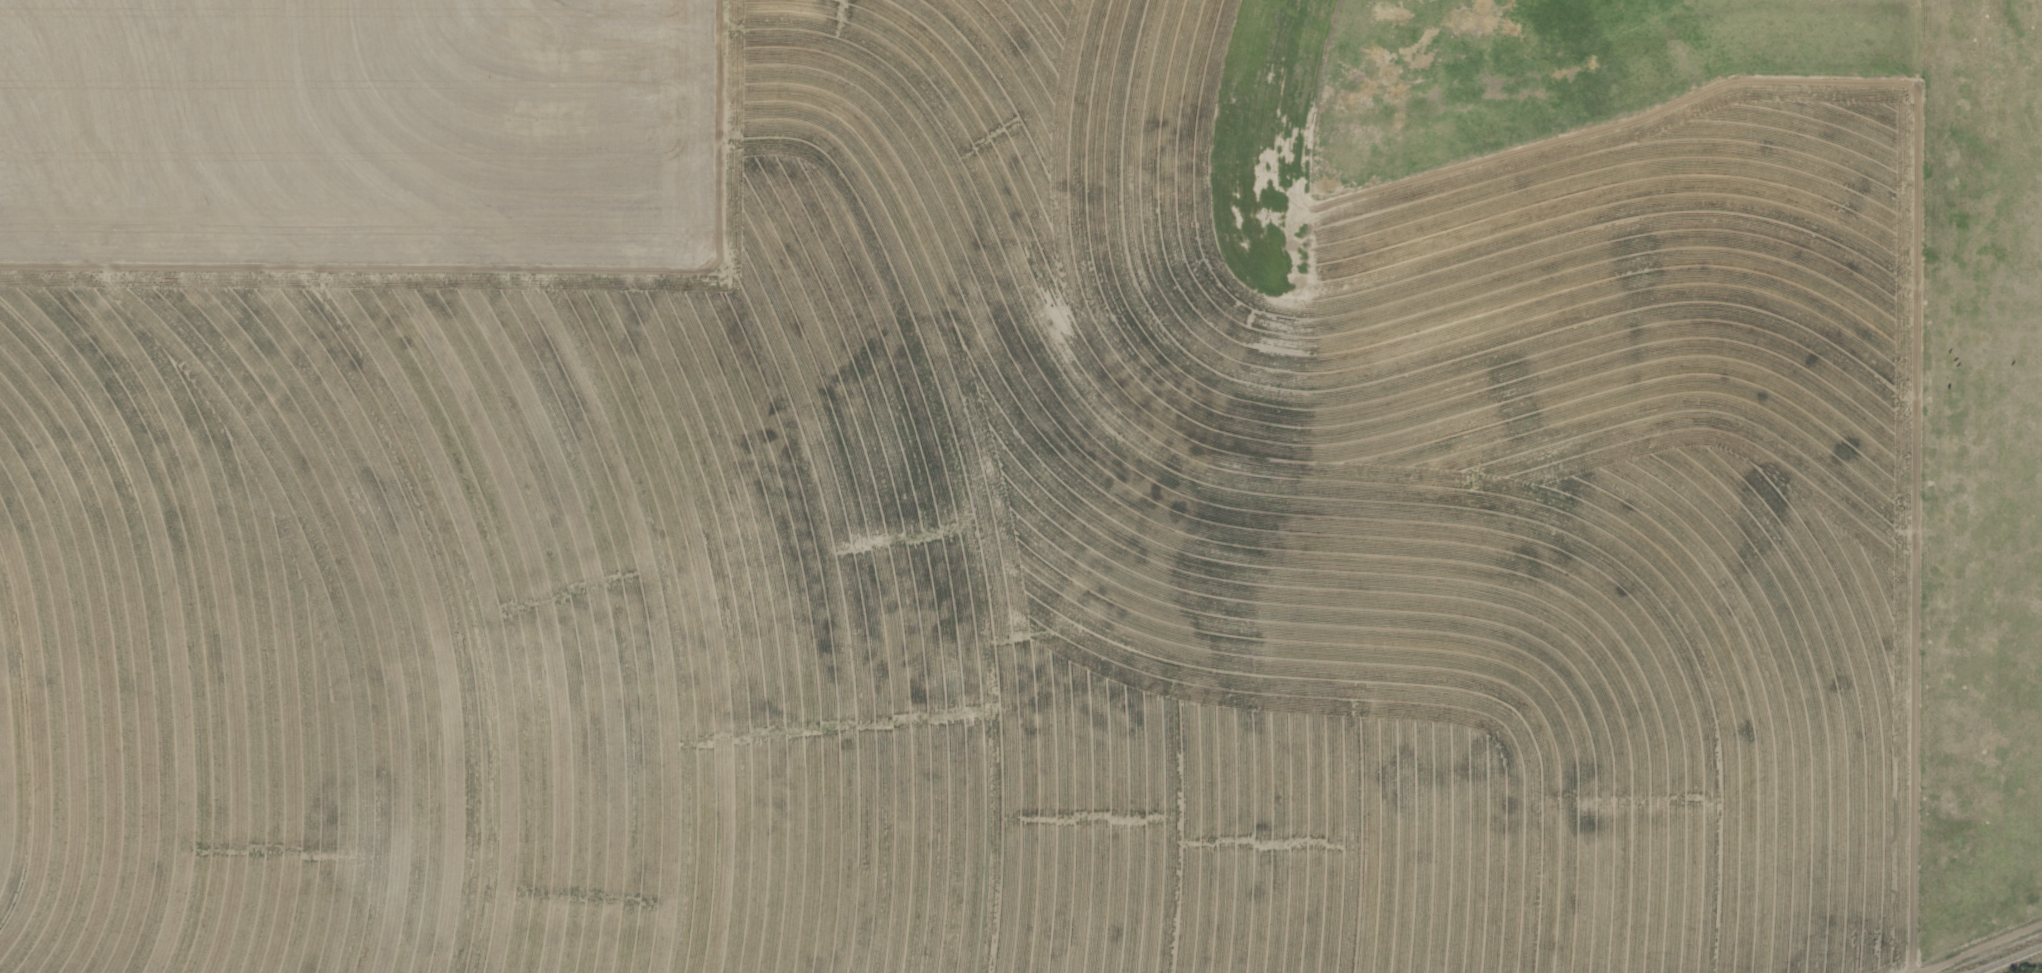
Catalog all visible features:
railway: (2008, 959)

